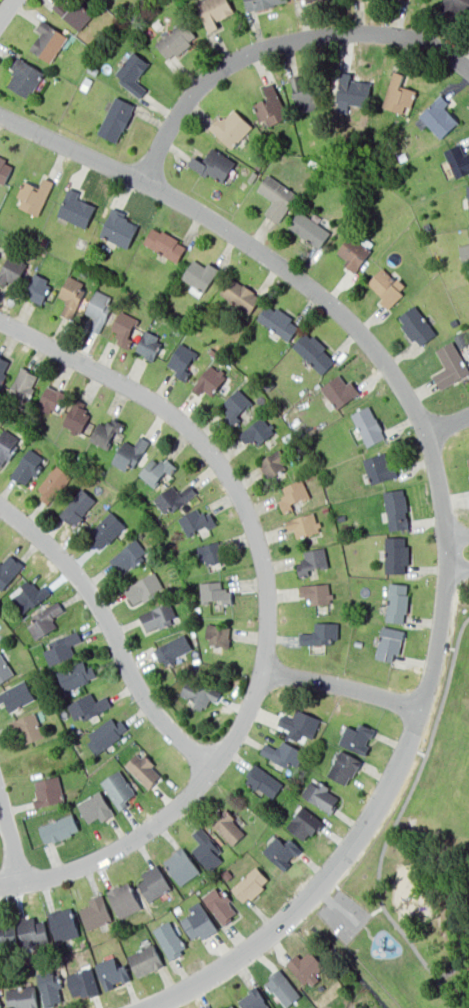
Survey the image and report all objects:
building: (108, 1)
building: (307, 1)
building: (263, 4)
building: (459, 4)
road: (5, 8)
building: (74, 12)
building: (214, 13)
building: (158, 24)
road: (275, 41)
building: (176, 42)
building: (51, 43)
building: (96, 70)
building: (133, 74)
building: (24, 77)
building: (87, 85)
building: (353, 91)
building: (303, 94)
building: (401, 96)
building: (272, 106)
building: (116, 119)
building: (439, 119)
building: (234, 127)
building: (405, 157)
building: (454, 163)
building: (259, 164)
building: (315, 164)
building: (215, 165)
building: (6, 173)
building: (253, 178)
building: (468, 191)
building: (35, 197)
building: (277, 197)
building: (77, 209)
building: (427, 228)
building: (119, 229)
building: (312, 231)
road: (238, 240)
building: (44, 241)
building: (167, 245)
building: (0, 246)
building: (355, 253)
building: (466, 255)
building: (13, 269)
building: (84, 273)
building: (201, 276)
building: (388, 287)
building: (38, 290)
building: (73, 295)
building: (242, 296)
building: (99, 308)
building: (455, 322)
building: (278, 323)
building: (418, 327)
building: (125, 328)
building: (462, 340)
building: (149, 346)
building: (315, 354)
building: (182, 363)
building: (3, 367)
building: (451, 367)
building: (210, 381)
building: (24, 383)
building: (340, 392)
building: (52, 399)
building: (238, 409)
building: (77, 416)
building: (8, 417)
road: (446, 422)
building: (369, 428)
building: (256, 432)
building: (106, 433)
building: (288, 437)
building: (7, 446)
building: (131, 453)
building: (468, 458)
building: (467, 465)
building: (274, 466)
building: (28, 468)
building: (102, 471)
building: (380, 471)
building: (156, 472)
building: (54, 484)
road: (235, 493)
building: (293, 495)
building: (176, 497)
building: (394, 506)
building: (78, 507)
building: (324, 510)
building: (342, 517)
building: (197, 521)
building: (303, 526)
building: (107, 530)
road: (457, 543)
building: (210, 551)
building: (396, 552)
building: (128, 556)
road: (457, 559)
building: (312, 563)
building: (9, 569)
building: (178, 586)
building: (146, 590)
building: (319, 590)
building: (216, 593)
building: (28, 594)
building: (396, 600)
building: (198, 609)
building: (362, 614)
building: (45, 618)
building: (158, 618)
road: (112, 633)
building: (319, 633)
building: (219, 635)
building: (388, 641)
building: (172, 644)
building: (359, 644)
building: (60, 645)
building: (6, 668)
building: (76, 673)
road: (342, 685)
building: (199, 691)
building: (17, 694)
building: (85, 703)
building: (297, 725)
building: (30, 728)
building: (105, 728)
building: (356, 736)
building: (280, 753)
building: (342, 764)
building: (141, 766)
road: (394, 769)
building: (263, 778)
building: (119, 787)
building: (47, 788)
building: (320, 793)
building: (96, 804)
building: (304, 821)
road: (396, 822)
building: (228, 825)
building: (59, 826)
road: (9, 838)
building: (205, 845)
road: (118, 851)
building: (280, 851)
park: (416, 860)
building: (181, 864)
building: (153, 880)
building: (249, 880)
building: (123, 897)
building: (220, 902)
road: (337, 907)
building: (95, 911)
building: (197, 919)
building: (62, 922)
building: (4, 925)
building: (30, 927)
road: (468, 931)
road: (348, 935)
building: (7, 936)
building: (168, 938)
building: (144, 957)
building: (304, 964)
building: (112, 969)
building: (83, 981)
building: (50, 987)
building: (285, 987)
building: (20, 995)
building: (255, 998)
building: (0, 1003)
building: (230, 1006)
building: (235, 1006)
building: (223, 1007)

